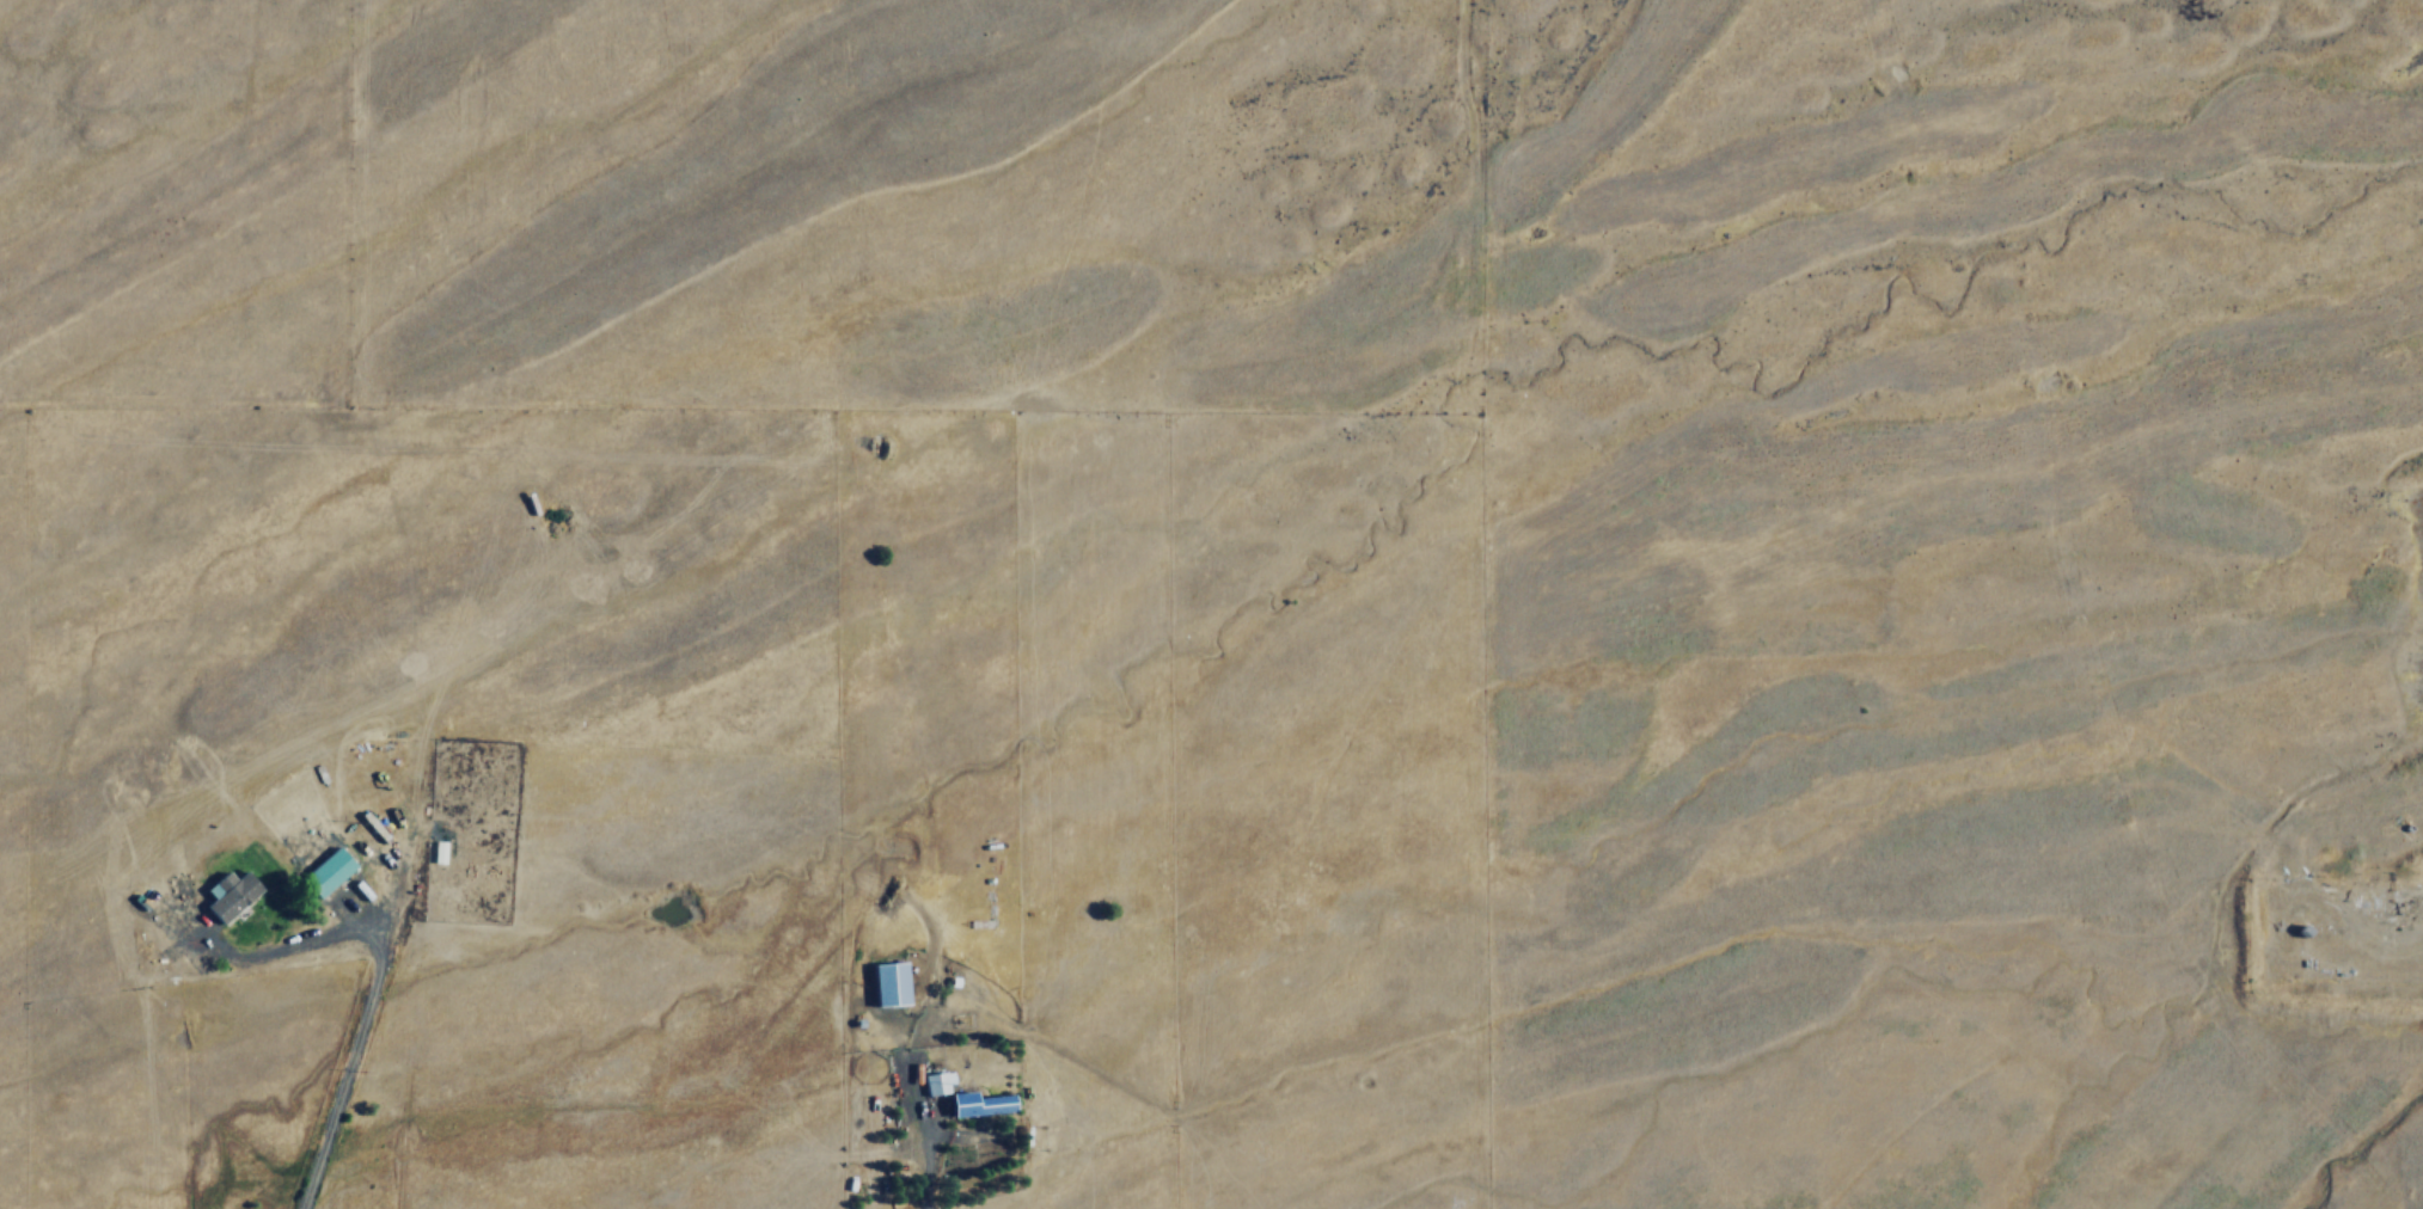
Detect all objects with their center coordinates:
building: (326, 870)
building: (228, 894)
building: (889, 982)
road: (335, 1079)
building: (934, 1082)
building: (979, 1101)
road: (918, 1170)

